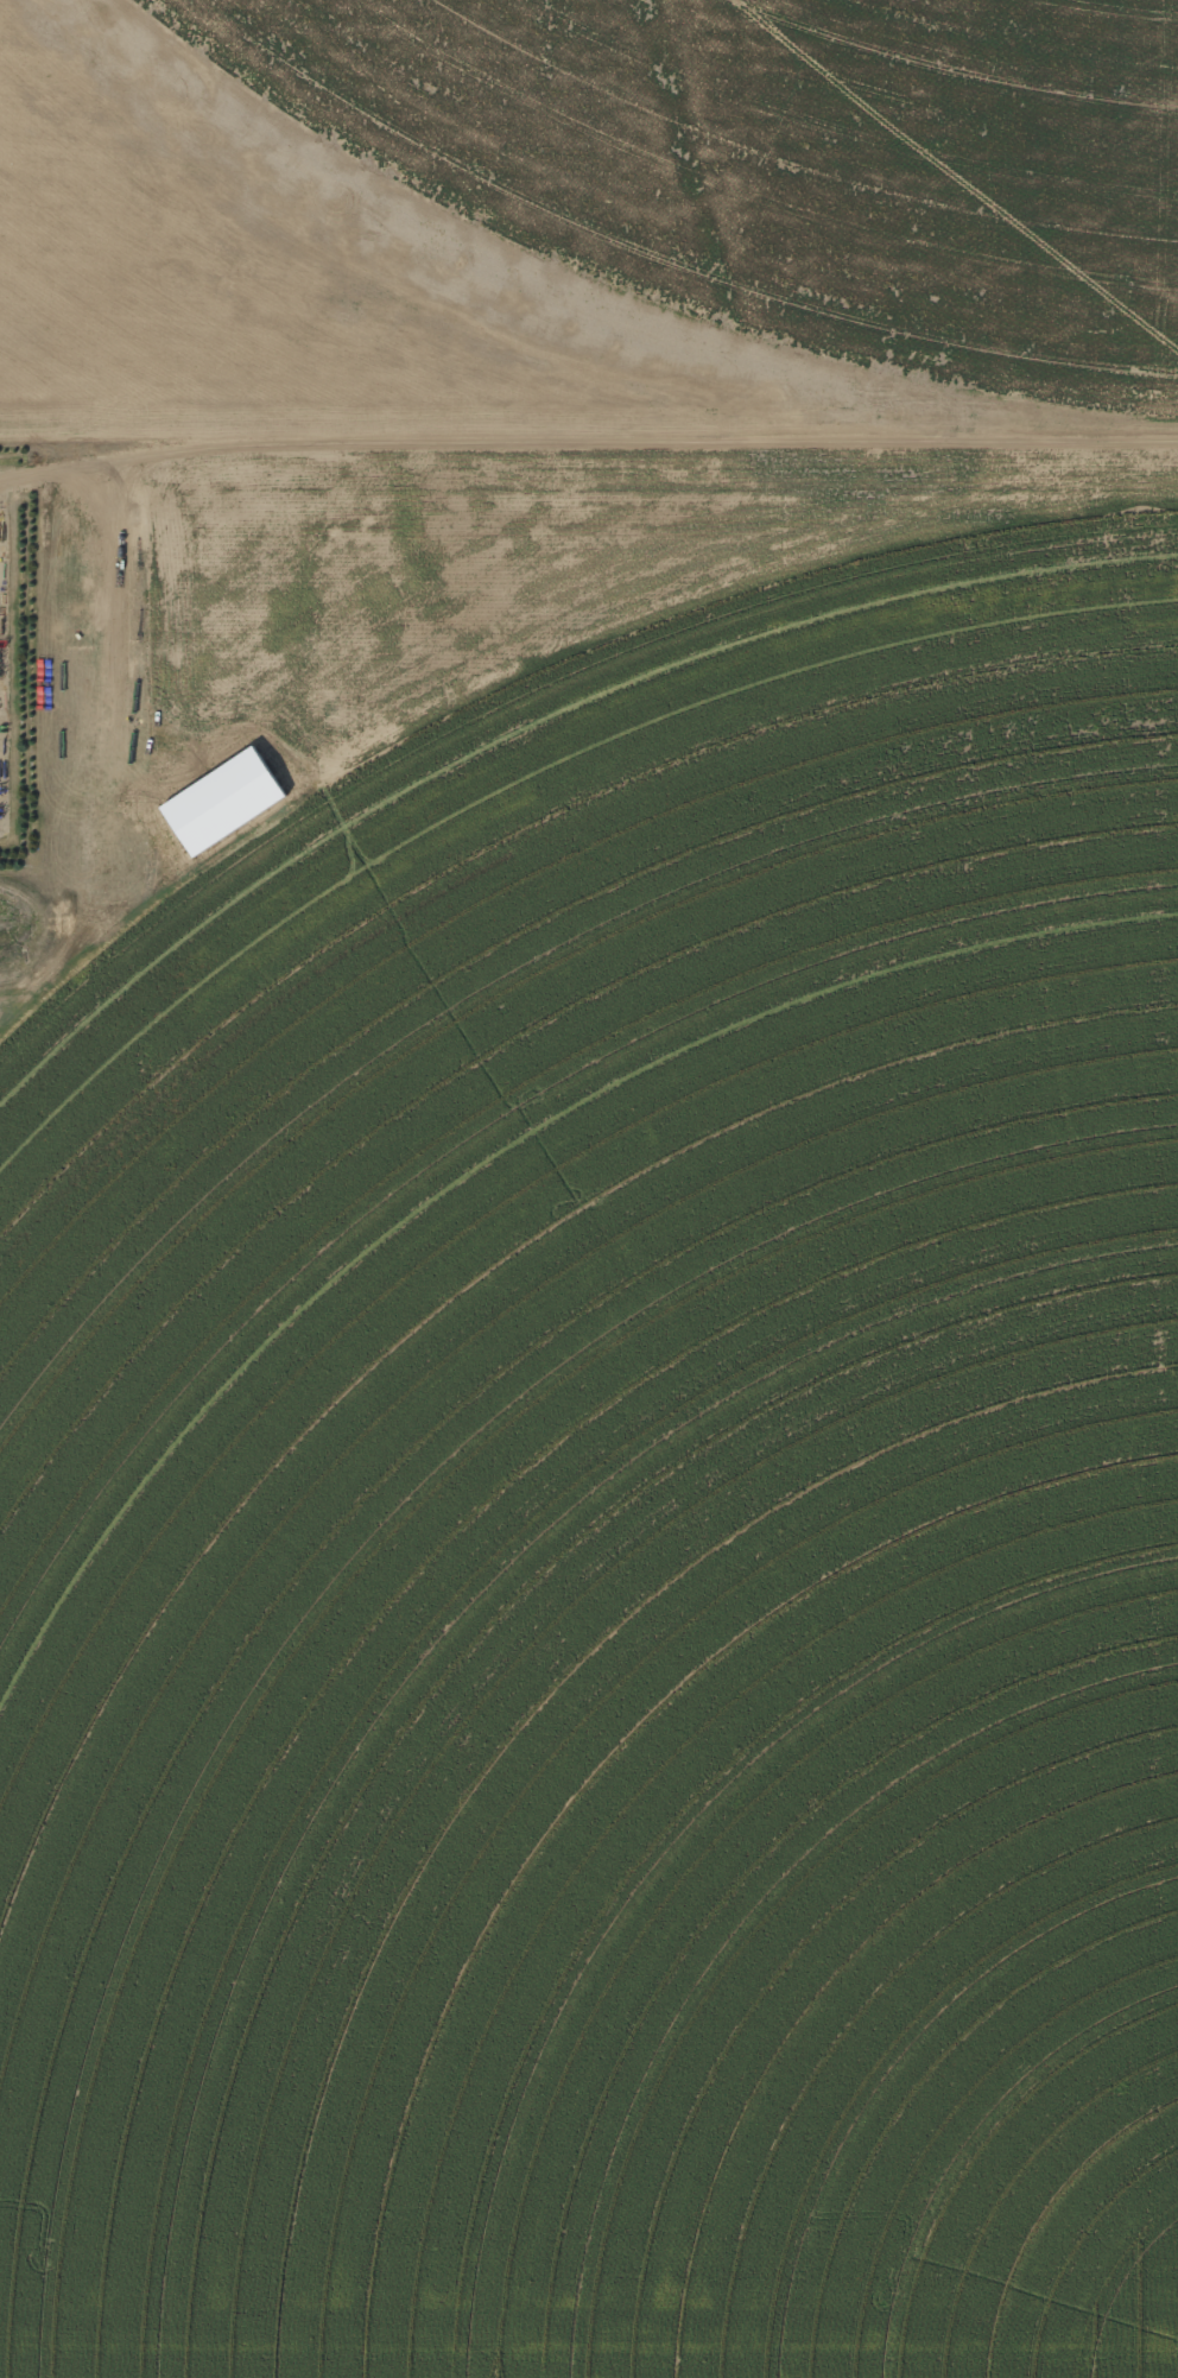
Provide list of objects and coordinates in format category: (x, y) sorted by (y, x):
building: (221, 801)

